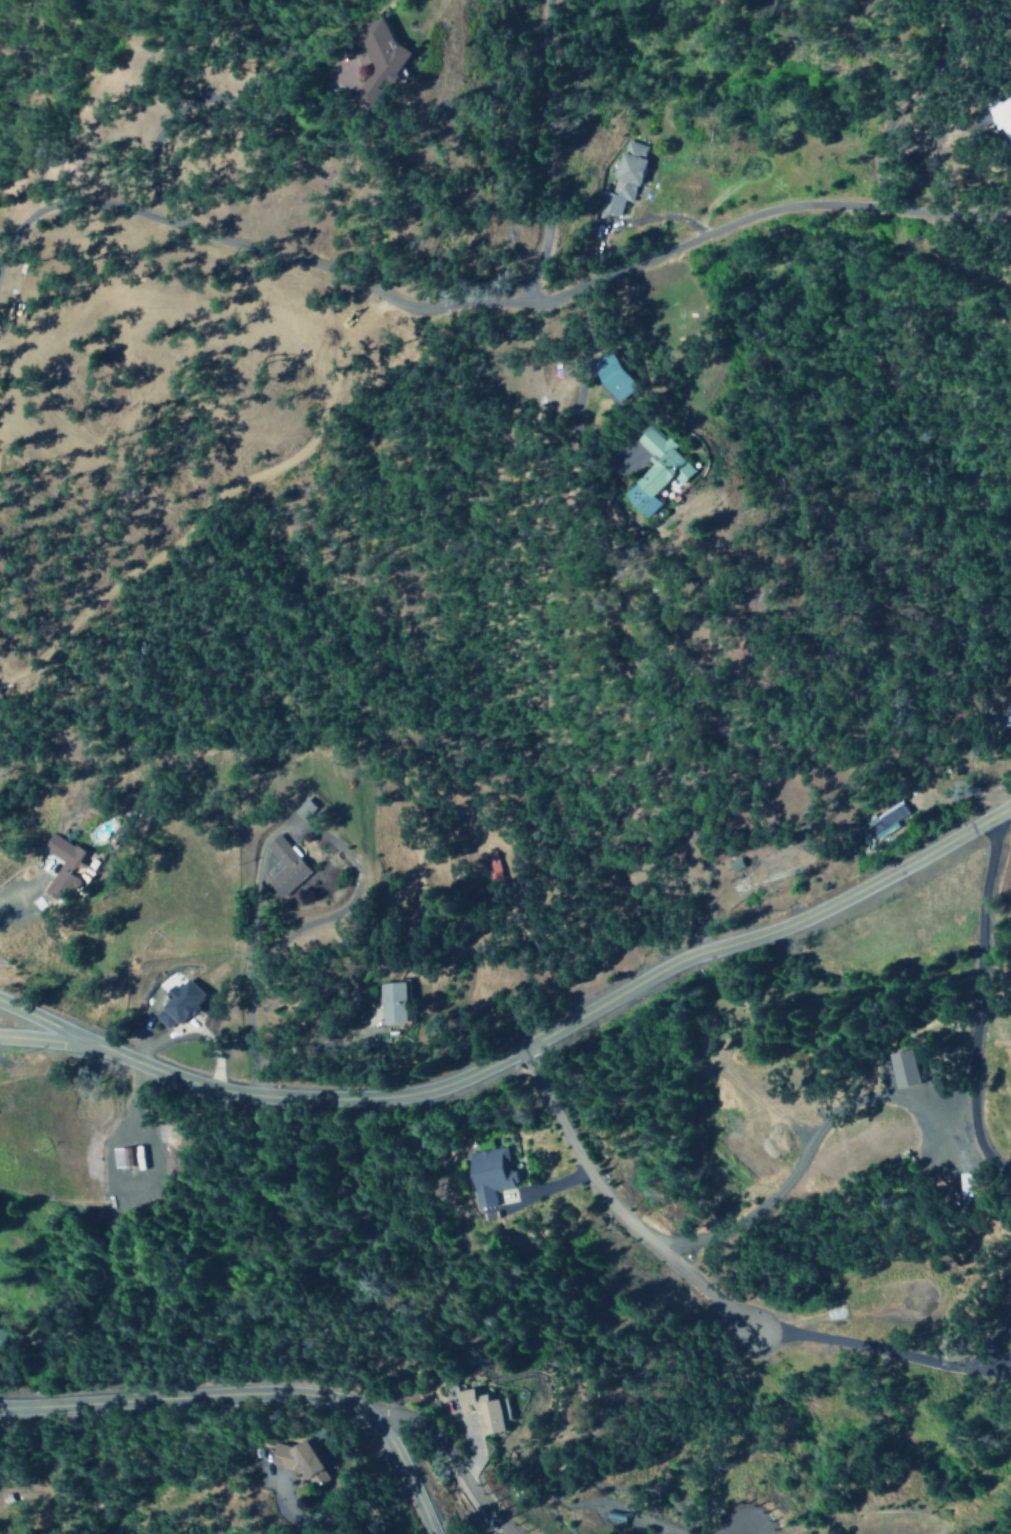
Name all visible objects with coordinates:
building: (352, 53)
building: (1000, 115)
road: (544, 150)
building: (623, 176)
road: (491, 302)
building: (609, 375)
building: (648, 470)
building: (1010, 706)
building: (1004, 718)
building: (283, 866)
building: (62, 867)
road: (18, 896)
road: (978, 1000)
building: (391, 1001)
building: (176, 1004)
road: (47, 1021)
road: (566, 1023)
road: (46, 1040)
building: (900, 1068)
building: (488, 1175)
road: (718, 1299)
building: (1, 1333)
road: (252, 1390)
building: (482, 1411)
road: (448, 1456)
building: (302, 1460)

